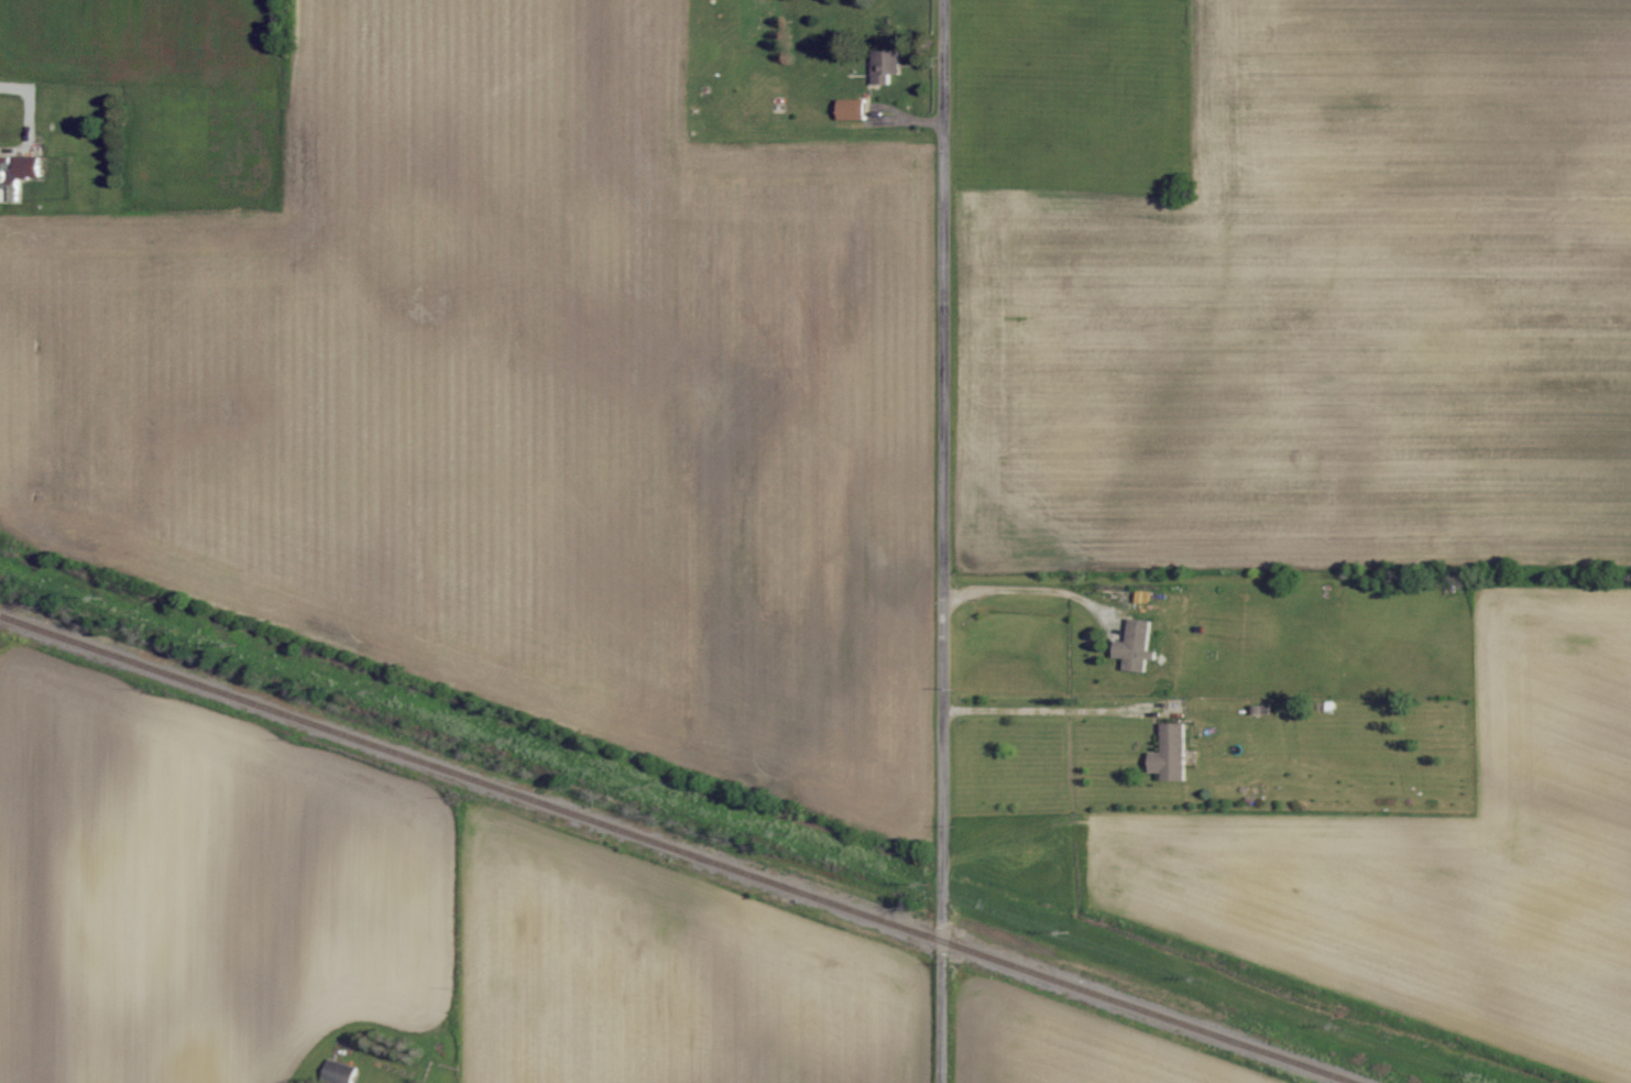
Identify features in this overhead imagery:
building: (887, 67)
building: (854, 110)
road: (943, 541)
road: (1030, 589)
building: (1137, 641)
road: (1057, 709)
building: (1172, 752)
railway: (679, 847)

